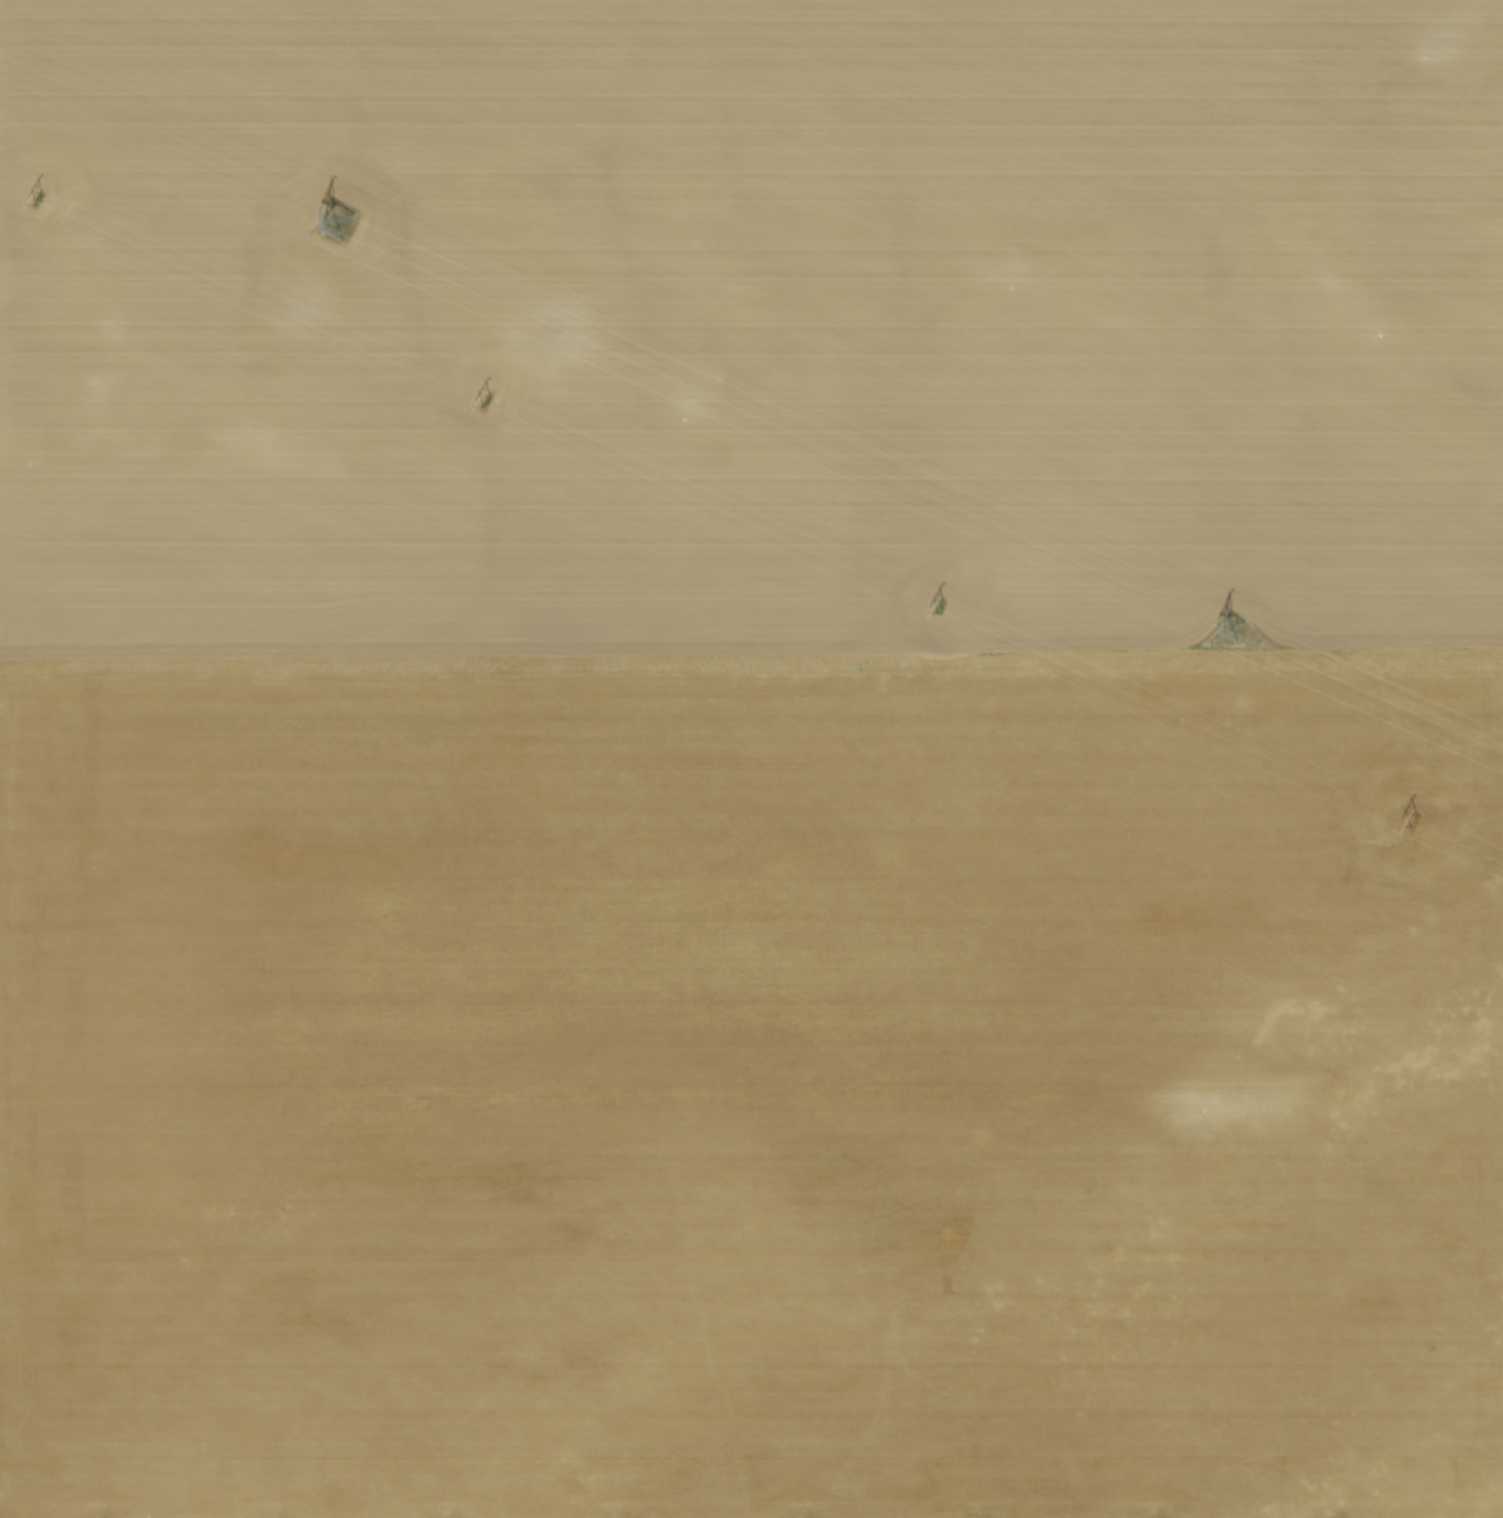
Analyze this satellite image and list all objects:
power tower: (41, 198)
power tower: (339, 221)
power tower: (488, 404)
power tower: (941, 606)
power tower: (1233, 624)
crop: (751, 759)
power tower: (1416, 824)

